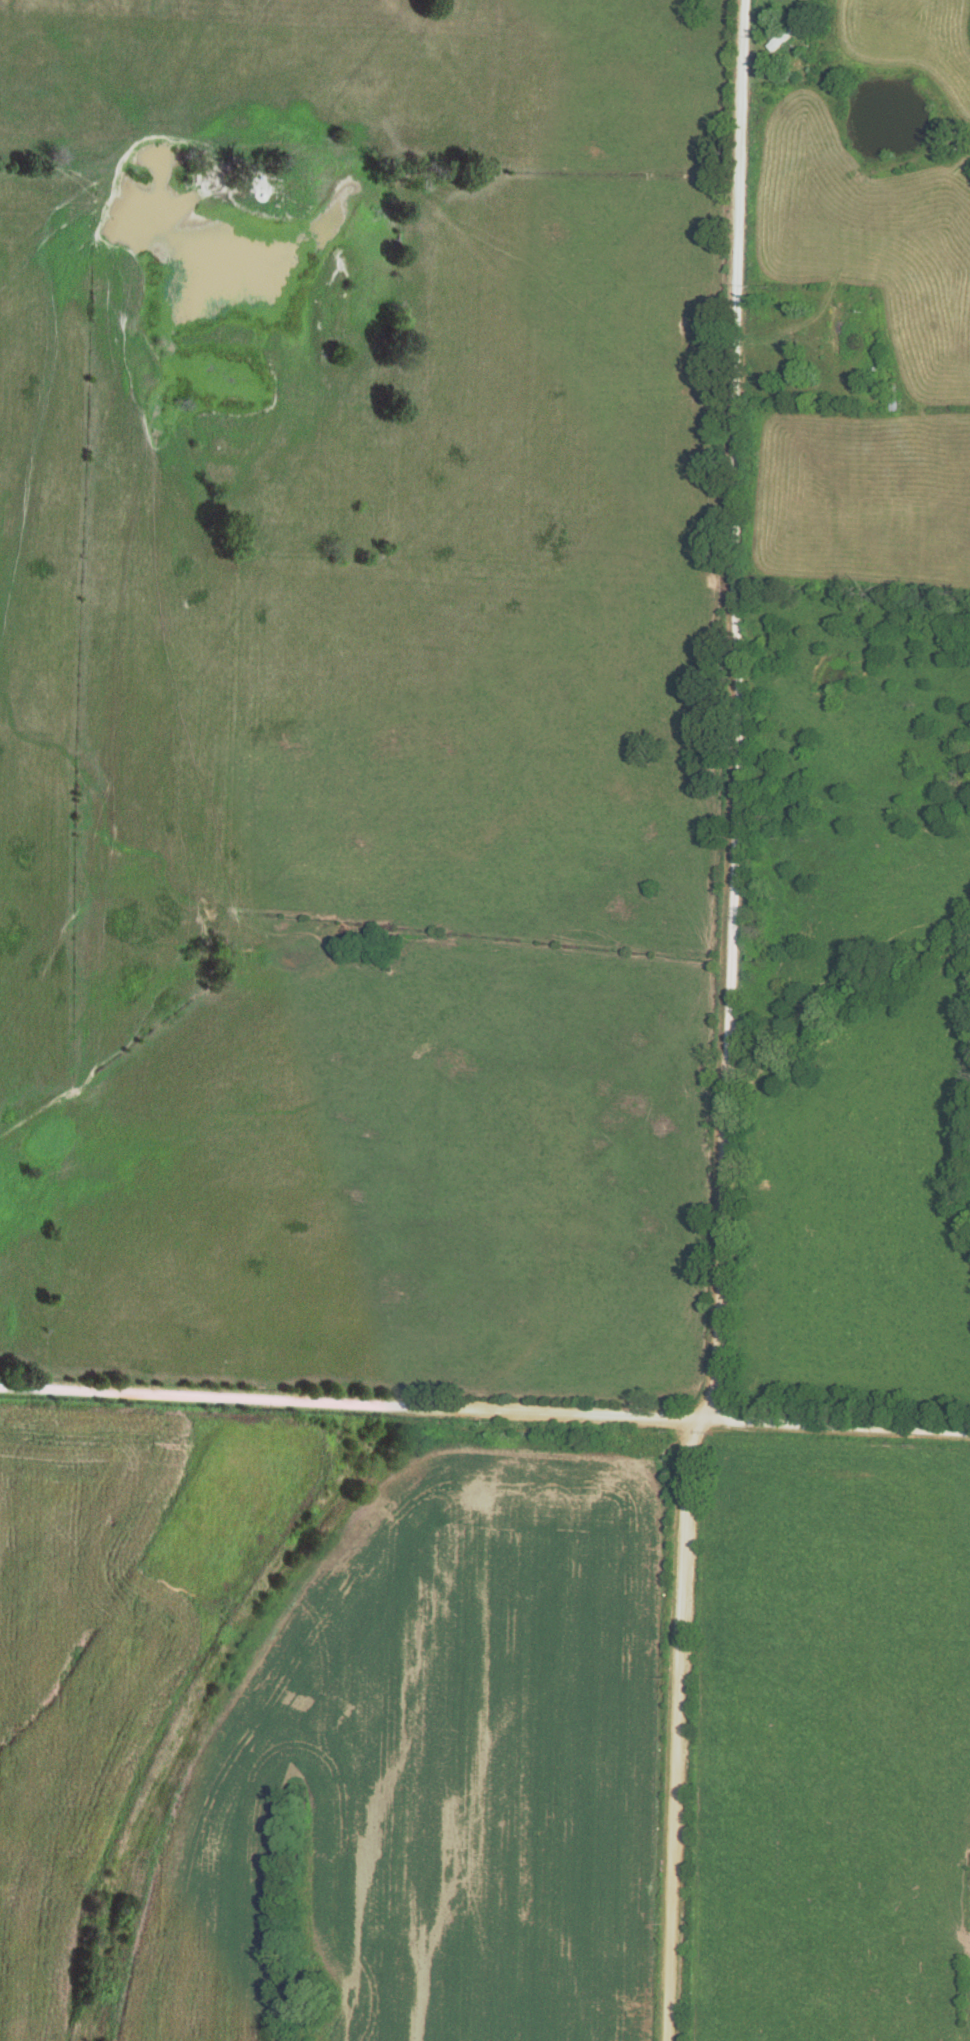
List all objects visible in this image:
building: (787, 33)
road: (731, 709)
road: (47, 1101)
road: (484, 1405)
road: (675, 1728)

